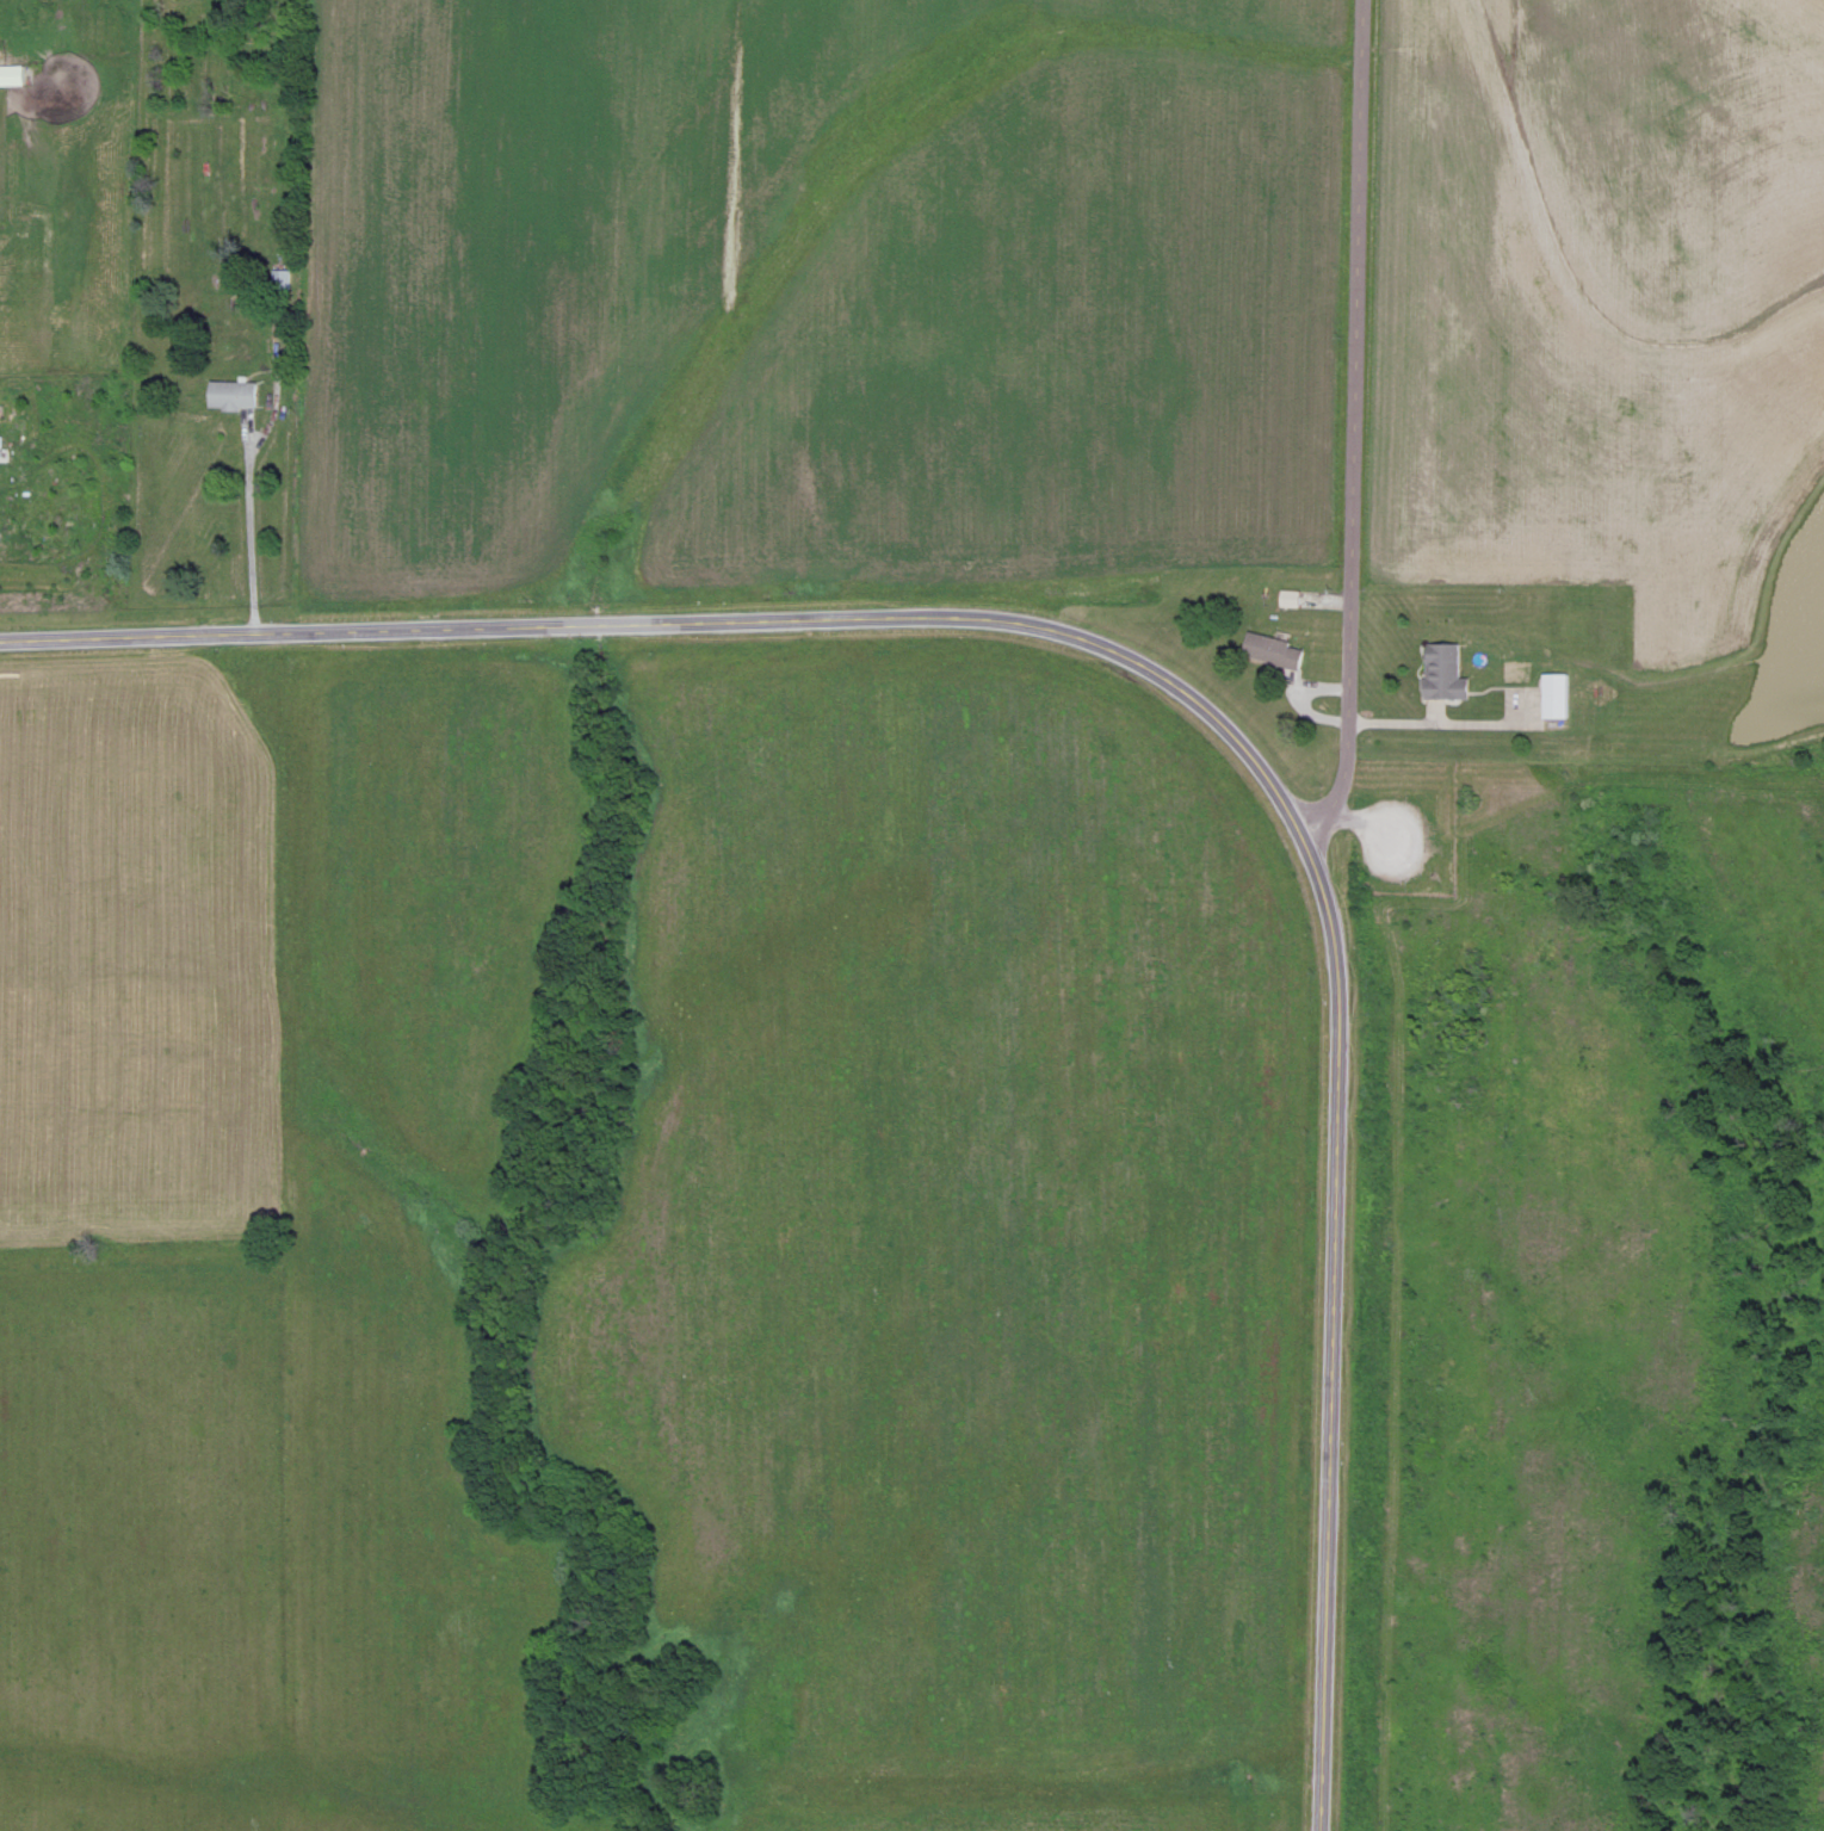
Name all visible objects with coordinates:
building: (10, 73)
building: (231, 391)
road: (1350, 426)
road: (248, 521)
building: (1288, 594)
building: (1272, 648)
building: (1442, 669)
road: (1177, 687)
building: (1553, 693)
road: (1439, 720)
park: (1585, 1303)

